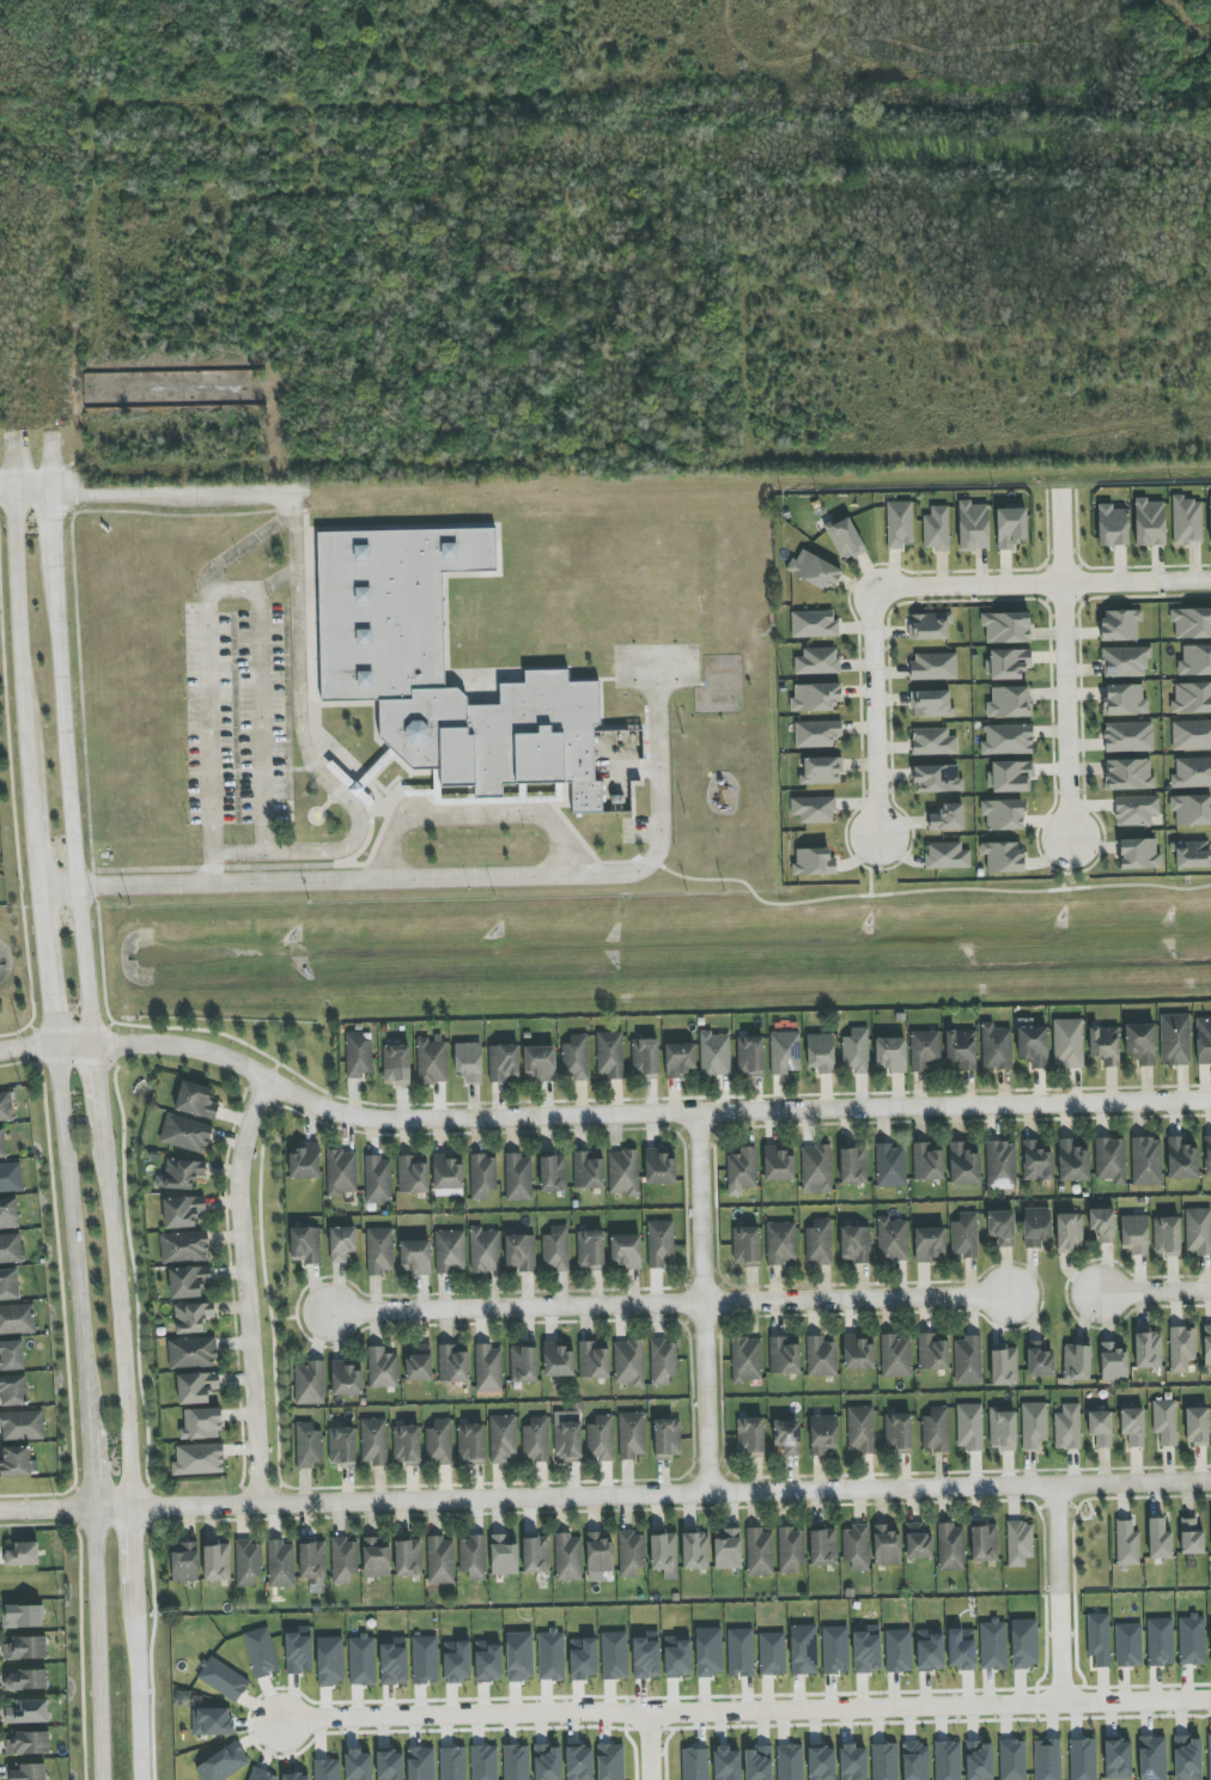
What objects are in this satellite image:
road: (12, 462)
road: (51, 462)
road: (25, 488)
road: (179, 494)
building: (1210, 517)
building: (1186, 521)
building: (1149, 523)
building: (899, 524)
building: (973, 526)
building: (1112, 526)
building: (1010, 527)
building: (936, 529)
building: (845, 539)
road: (243, 546)
building: (814, 570)
road: (276, 581)
road: (918, 584)
building: (1192, 622)
building: (814, 624)
building: (1120, 625)
building: (929, 626)
building: (1006, 627)
road: (19, 639)
building: (817, 661)
building: (1195, 661)
building: (1125, 662)
building: (1008, 663)
park: (655, 666)
building: (933, 667)
road: (1066, 667)
building: (442, 668)
road: (208, 697)
building: (814, 697)
building: (1192, 698)
building: (1125, 700)
building: (1009, 703)
building: (931, 704)
road: (260, 722)
road: (300, 733)
building: (816, 734)
building: (1191, 735)
building: (1128, 736)
building: (1008, 740)
building: (933, 742)
road: (68, 767)
road: (619, 771)
building: (1192, 773)
building: (1128, 774)
building: (1010, 776)
building: (937, 779)
building: (814, 809)
building: (1191, 809)
building: (1136, 810)
building: (1003, 814)
road: (477, 815)
building: (947, 818)
road: (38, 840)
road: (223, 853)
building: (1139, 855)
building: (1191, 855)
building: (947, 856)
building: (1003, 857)
building: (813, 862)
road: (1064, 867)
road: (870, 869)
road: (448, 879)
road: (924, 891)
road: (49, 968)
building: (1175, 1039)
building: (1203, 1039)
building: (1140, 1043)
building: (1067, 1044)
building: (1033, 1045)
building: (1104, 1045)
building: (961, 1047)
building: (996, 1047)
building: (856, 1051)
building: (925, 1051)
building: (785, 1052)
building: (821, 1052)
building: (358, 1055)
building: (609, 1055)
building: (714, 1055)
building: (890, 1055)
building: (750, 1056)
building: (574, 1058)
building: (645, 1058)
building: (678, 1059)
building: (432, 1061)
building: (468, 1062)
building: (504, 1063)
building: (540, 1063)
building: (396, 1064)
building: (195, 1100)
building: (6, 1107)
road: (597, 1118)
road: (99, 1120)
building: (185, 1134)
building: (2, 1144)
building: (1207, 1155)
building: (1181, 1159)
building: (1109, 1160)
building: (305, 1161)
building: (927, 1161)
building: (1036, 1161)
building: (1072, 1161)
building: (1146, 1161)
building: (778, 1165)
building: (963, 1165)
building: (1000, 1165)
building: (853, 1166)
building: (890, 1166)
building: (659, 1168)
building: (816, 1170)
building: (589, 1171)
building: (742, 1171)
building: (341, 1172)
building: (553, 1172)
building: (623, 1172)
building: (413, 1173)
building: (179, 1174)
building: (448, 1175)
building: (482, 1175)
building: (11, 1177)
building: (518, 1177)
building: (378, 1180)
building: (182, 1211)
building: (8, 1214)
road: (72, 1220)
building: (1102, 1225)
building: (1036, 1226)
building: (1002, 1227)
building: (1198, 1231)
building: (1069, 1233)
building: (1134, 1234)
building: (964, 1235)
building: (1167, 1237)
building: (891, 1240)
building: (819, 1243)
building: (341, 1244)
building: (661, 1244)
building: (781, 1244)
building: (856, 1244)
building: (929, 1244)
building: (305, 1245)
building: (746, 1246)
building: (184, 1247)
building: (10, 1249)
building: (485, 1250)
building: (555, 1250)
building: (590, 1250)
building: (379, 1251)
building: (626, 1251)
building: (450, 1252)
building: (519, 1252)
building: (415, 1257)
building: (188, 1281)
building: (8, 1284)
road: (249, 1289)
road: (1155, 1290)
road: (670, 1304)
road: (705, 1305)
building: (191, 1317)
building: (17, 1319)
building: (1206, 1344)
building: (1181, 1348)
building: (1148, 1349)
road: (120, 1350)
building: (933, 1351)
building: (193, 1353)
building: (857, 1354)
building: (11, 1355)
building: (784, 1356)
building: (821, 1356)
building: (895, 1356)
building: (558, 1360)
building: (594, 1360)
building: (747, 1360)
building: (968, 1360)
building: (1039, 1360)
building: (662, 1361)
building: (628, 1362)
building: (1076, 1362)
building: (1113, 1362)
building: (419, 1363)
building: (452, 1365)
building: (524, 1365)
building: (1004, 1367)
building: (382, 1368)
building: (488, 1368)
building: (346, 1379)
building: (309, 1383)
building: (196, 1387)
building: (13, 1390)
building: (1164, 1422)
building: (201, 1424)
building: (1034, 1424)
building: (22, 1426)
building: (1197, 1426)
building: (969, 1427)
building: (1067, 1427)
building: (1133, 1427)
building: (1100, 1428)
building: (936, 1429)
building: (1002, 1429)
building: (860, 1430)
building: (823, 1434)
building: (897, 1434)
building: (567, 1435)
building: (632, 1435)
building: (787, 1436)
building: (503, 1438)
building: (750, 1438)
building: (601, 1439)
building: (667, 1439)
building: (536, 1440)
building: (373, 1441)
building: (439, 1442)
building: (470, 1444)
building: (308, 1446)
building: (407, 1446)
building: (341, 1447)
road: (92, 1450)
building: (199, 1459)
building: (17, 1462)
road: (736, 1493)
road: (195, 1505)
road: (112, 1508)
road: (48, 1509)
building: (1191, 1538)
building: (1158, 1539)
building: (918, 1541)
building: (984, 1543)
building: (1018, 1543)
building: (1127, 1544)
building: (886, 1545)
building: (856, 1547)
building: (823, 1548)
building: (950, 1548)
building: (728, 1549)
building: (790, 1549)
building: (695, 1550)
building: (600, 1551)
building: (631, 1553)
building: (759, 1553)
building: (23, 1554)
building: (536, 1554)
building: (664, 1554)
building: (504, 1555)
building: (376, 1557)
building: (408, 1557)
building: (473, 1557)
building: (567, 1557)
road: (129, 1560)
building: (312, 1560)
building: (343, 1561)
building: (440, 1561)
building: (184, 1562)
building: (217, 1562)
building: (247, 1562)
building: (280, 1565)
road: (1058, 1597)
building: (23, 1616)
building: (1099, 1639)
building: (1192, 1640)
building: (1160, 1642)
building: (1024, 1644)
building: (1210, 1644)
road: (97, 1645)
building: (993, 1645)
building: (1128, 1645)
building: (25, 1648)
building: (962, 1648)
building: (803, 1650)
building: (834, 1650)
building: (866, 1650)
building: (930, 1650)
building: (299, 1651)
building: (899, 1651)
building: (261, 1652)
building: (708, 1652)
building: (741, 1652)
building: (772, 1654)
building: (550, 1656)
building: (614, 1656)
building: (646, 1656)
building: (519, 1657)
building: (677, 1657)
building: (583, 1658)
building: (361, 1660)
building: (425, 1660)
building: (488, 1660)
building: (329, 1661)
building: (394, 1661)
building: (456, 1661)
building: (25, 1679)
building: (223, 1679)
road: (133, 1696)
building: (26, 1712)
road: (744, 1715)
building: (212, 1721)
building: (28, 1743)
road: (649, 1749)
building: (1209, 1757)
building: (1118, 1758)
building: (1152, 1758)
building: (1187, 1758)
building: (1012, 1760)
building: (1047, 1760)
building: (1082, 1760)
building: (915, 1761)
building: (948, 1761)
building: (979, 1761)
building: (485, 1762)
building: (516, 1762)
building: (547, 1762)
building: (610, 1762)
building: (790, 1762)
building: (852, 1762)
building: (884, 1762)
building: (224, 1763)
building: (421, 1763)
building: (452, 1763)
building: (579, 1763)
building: (726, 1763)
building: (757, 1763)
building: (821, 1763)
building: (694, 1764)
building: (358, 1766)
building: (389, 1766)
building: (327, 1769)
building: (26, 1772)
building: (261, 1775)
building: (296, 1776)

